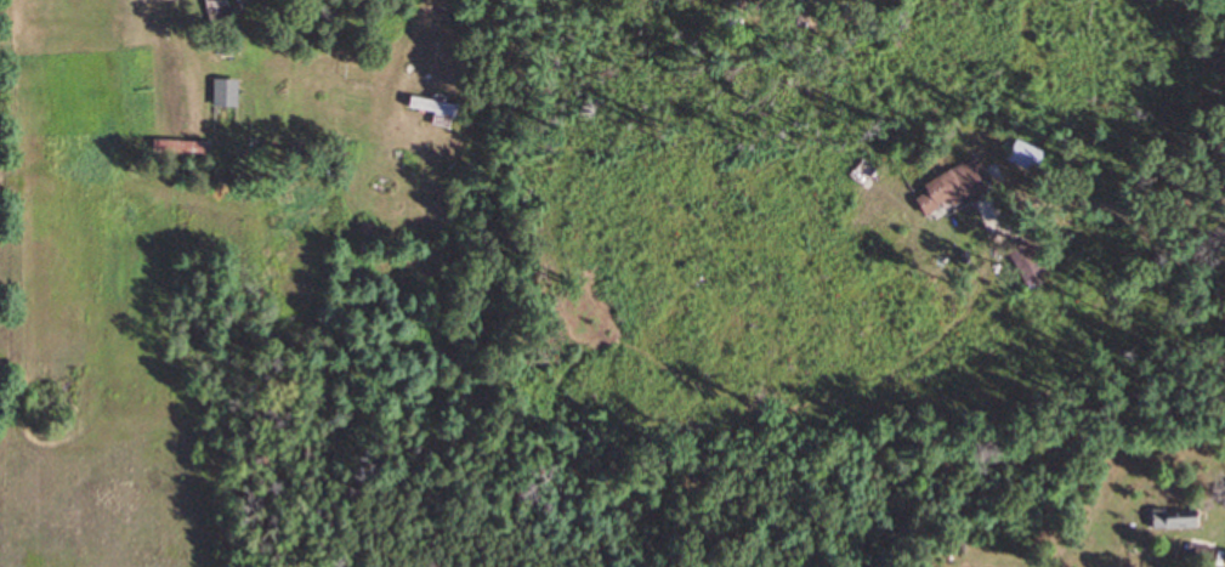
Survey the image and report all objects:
building: (229, 95)
building: (438, 107)
road: (439, 108)
building: (1027, 157)
building: (954, 187)
building: (1180, 518)
building: (1208, 557)

